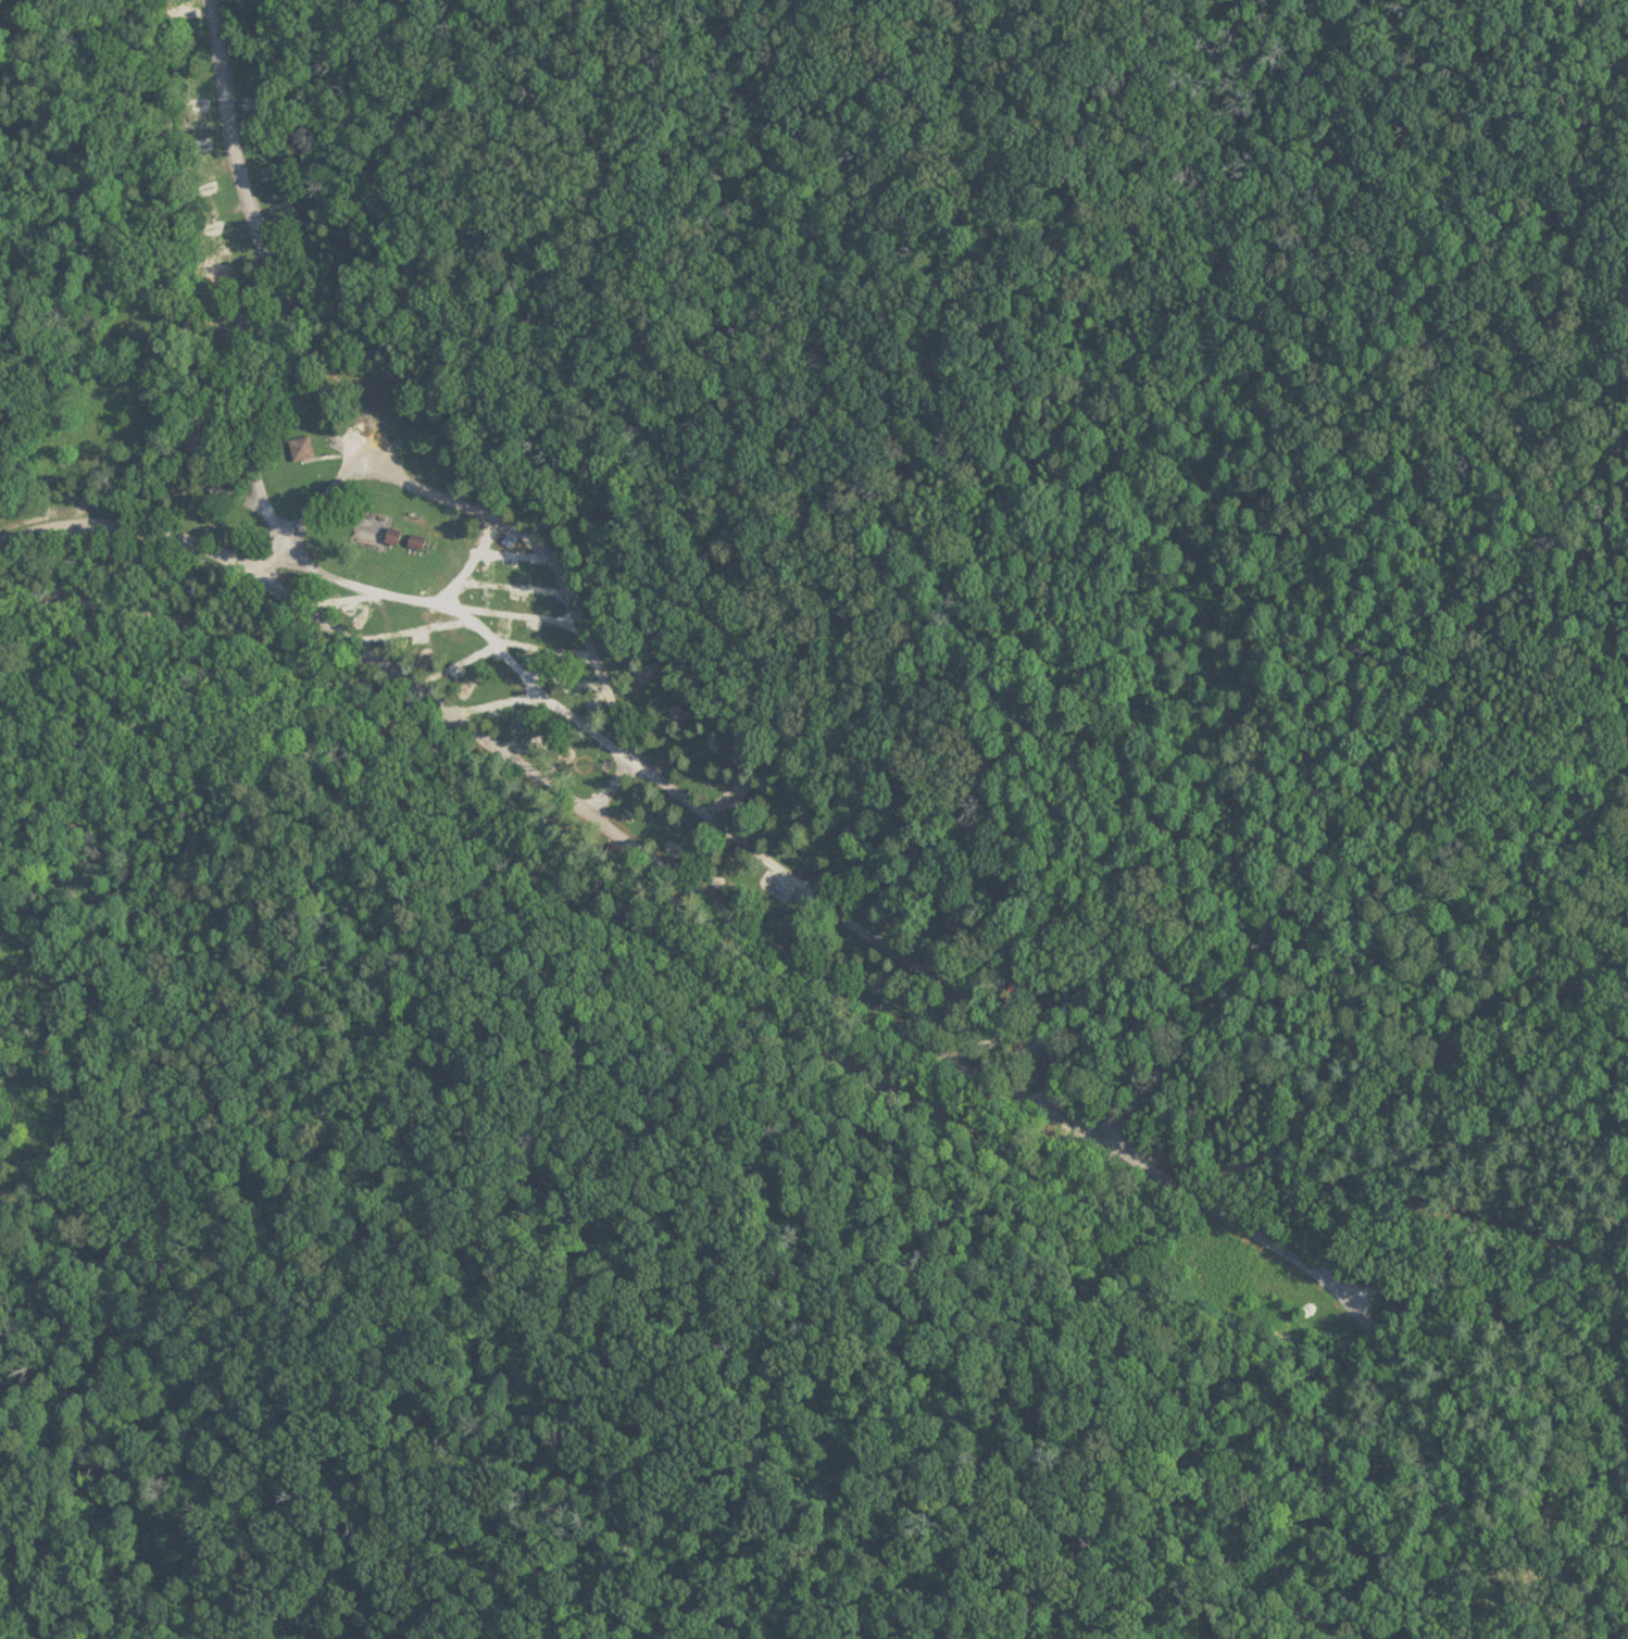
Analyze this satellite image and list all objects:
road: (851, 41)
road: (20, 136)
road: (255, 280)
park: (847, 414)
building: (299, 449)
building: (374, 531)
road: (1555, 625)
road: (1363, 764)
road: (1624, 768)
road: (547, 800)
road: (867, 1079)
road: (1316, 1344)

